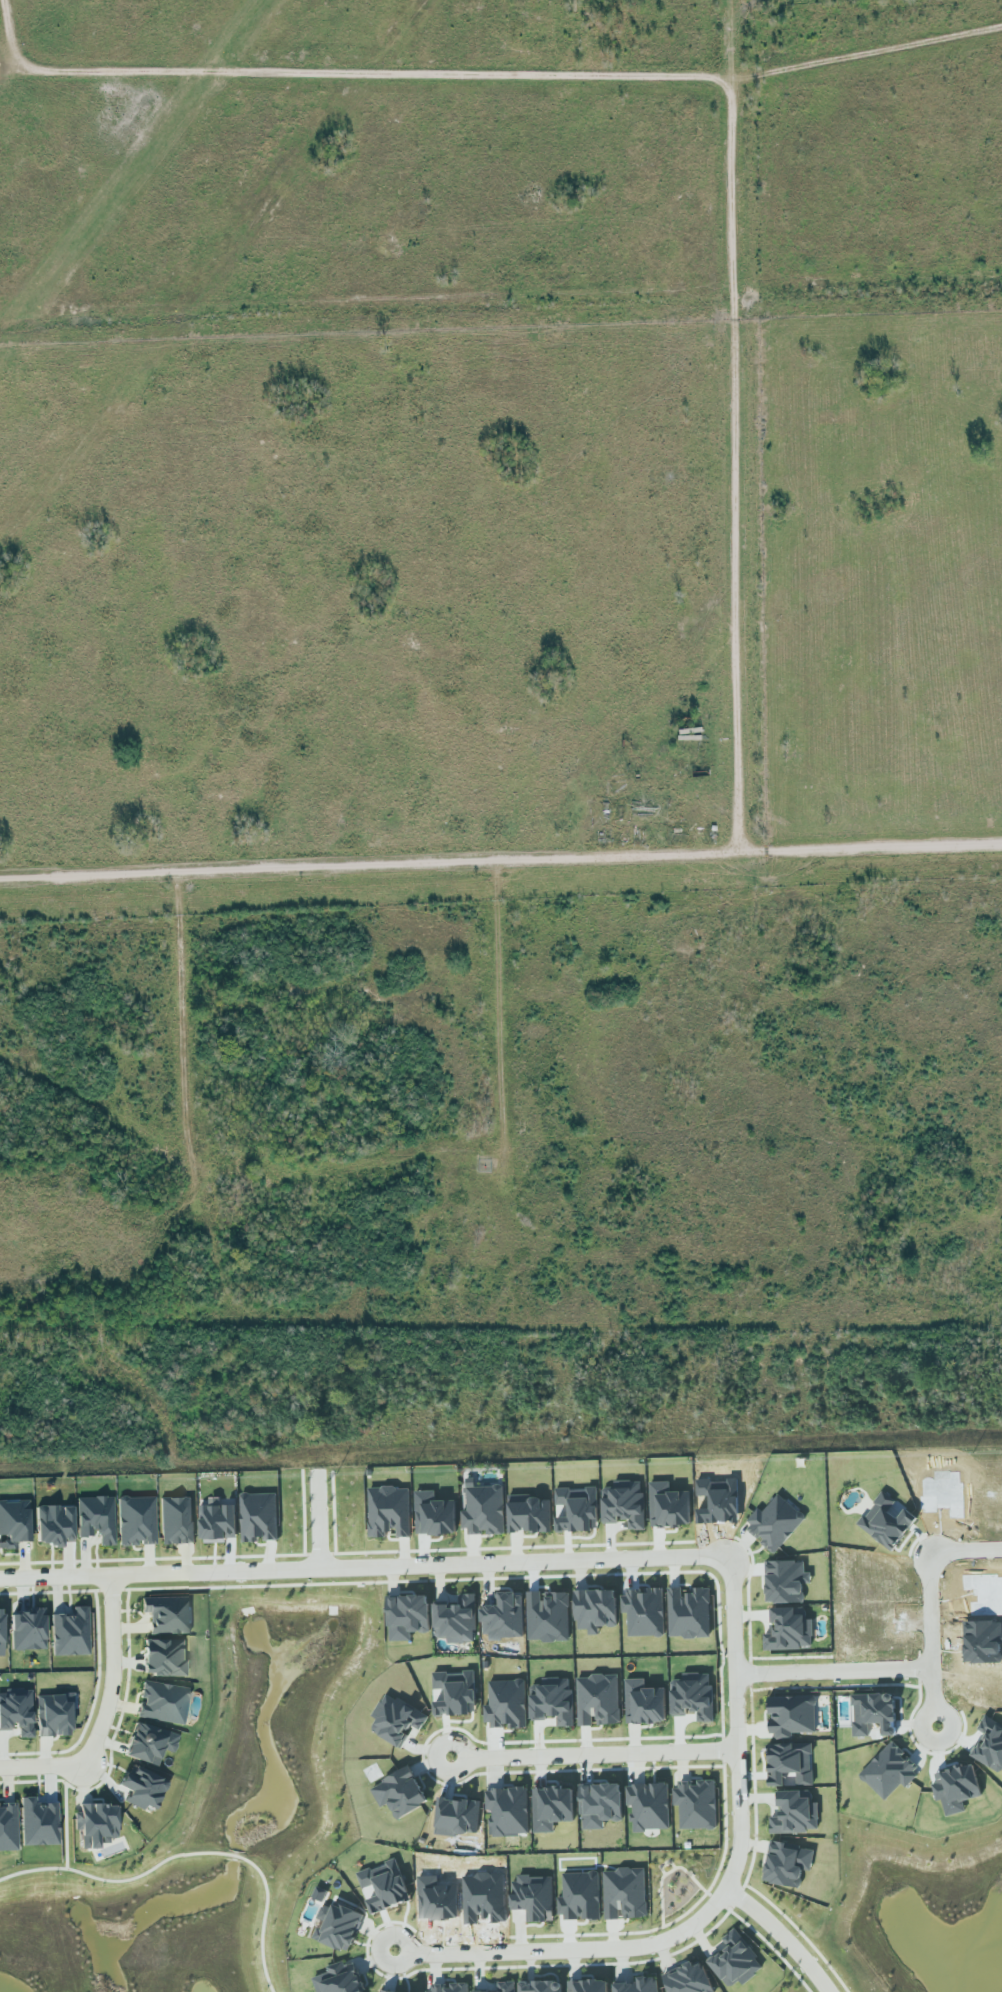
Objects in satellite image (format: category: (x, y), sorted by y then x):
road: (480, 77)
road: (735, 425)
road: (500, 854)
road: (502, 1010)
building: (624, 1504)
building: (668, 1506)
building: (484, 1509)
building: (576, 1509)
building: (389, 1511)
building: (530, 1514)
building: (259, 1517)
road: (319, 1518)
building: (96, 1520)
building: (136, 1521)
building: (176, 1521)
building: (886, 1522)
building: (218, 1523)
building: (775, 1523)
building: (13, 1524)
building: (53, 1525)
road: (527, 1562)
building: (784, 1581)
building: (595, 1610)
building: (645, 1612)
building: (689, 1613)
building: (167, 1615)
building: (407, 1616)
building: (505, 1617)
building: (456, 1620)
building: (27, 1630)
building: (789, 1630)
building: (70, 1633)
building: (1, 1634)
building: (163, 1658)
road: (926, 1669)
building: (455, 1695)
road: (934, 1697)
building: (598, 1699)
building: (552, 1701)
building: (162, 1703)
building: (644, 1703)
building: (506, 1704)
building: (16, 1712)
road: (105, 1712)
building: (53, 1716)
building: (792, 1716)
building: (396, 1719)
building: (149, 1744)
building: (990, 1745)
road: (593, 1752)
building: (889, 1771)
building: (957, 1784)
building: (142, 1790)
building: (400, 1793)
building: (696, 1804)
building: (600, 1805)
building: (649, 1806)
building: (508, 1810)
building: (794, 1813)
building: (458, 1816)
road: (65, 1818)
building: (38, 1823)
building: (95, 1825)
building: (8, 1827)
road: (189, 1854)
road: (666, 1864)
building: (787, 1864)
road: (670, 1871)
road: (718, 1874)
park: (677, 1879)
building: (385, 1886)
building: (625, 1893)
building: (534, 1897)
building: (337, 1926)
road: (612, 1933)
road: (781, 1935)
road: (767, 1942)
road: (568, 1949)
building: (735, 1960)
building: (339, 1979)
building: (688, 1979)
building: (639, 1985)
building: (541, 1986)
building: (588, 1986)
building: (505, 1987)
building: (448, 1988)
building: (382, 1991)

